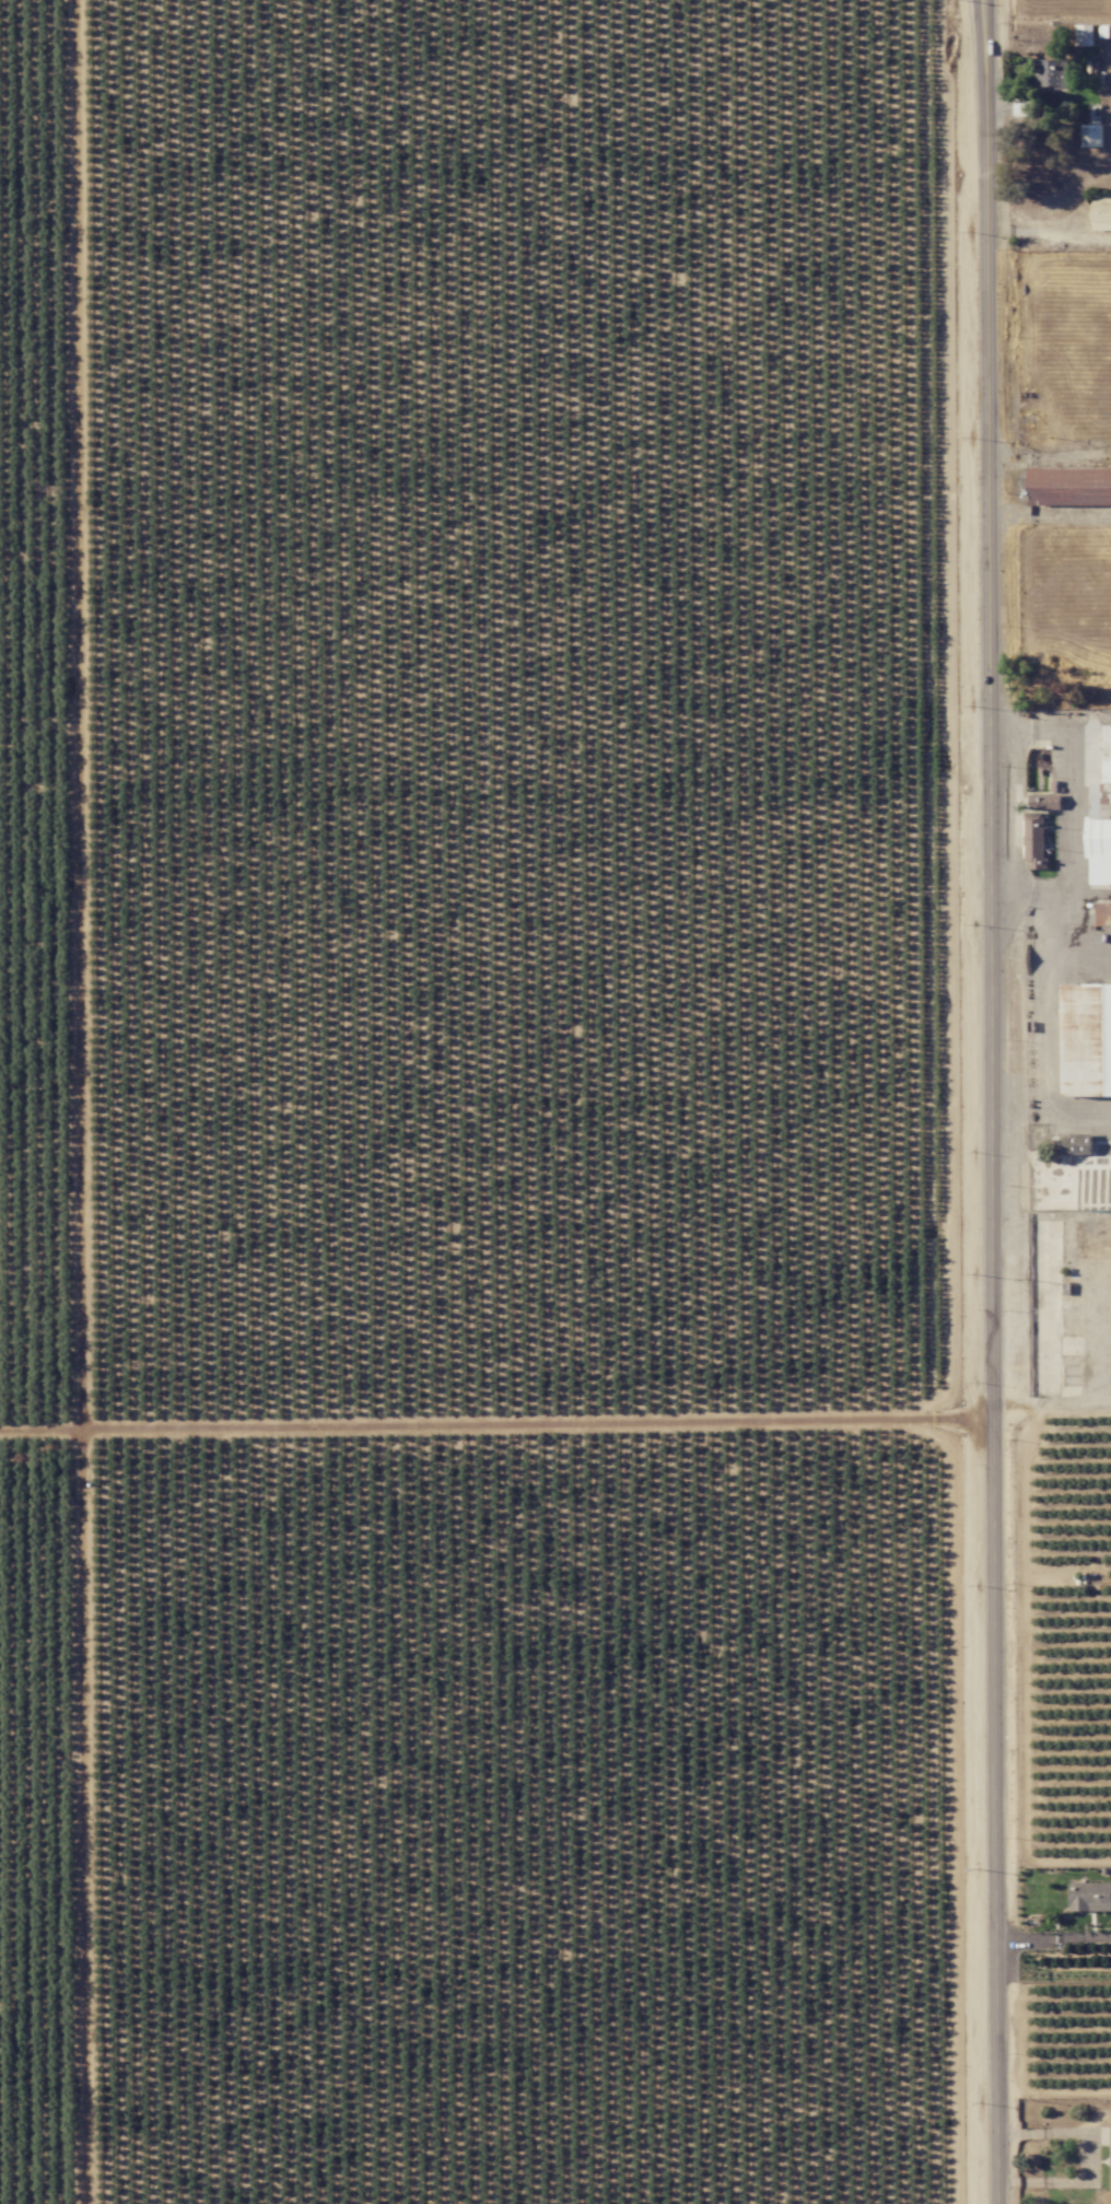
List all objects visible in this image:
building: (1085, 35)
building: (1052, 72)
building: (1071, 487)
road: (1006, 728)
building: (1101, 823)
building: (1034, 840)
road: (1073, 844)
building: (1103, 913)
building: (1088, 1039)
road: (984, 1101)
building: (1077, 1144)
road: (493, 1425)
building: (1090, 1896)
road: (1051, 1938)
road: (1080, 2153)

